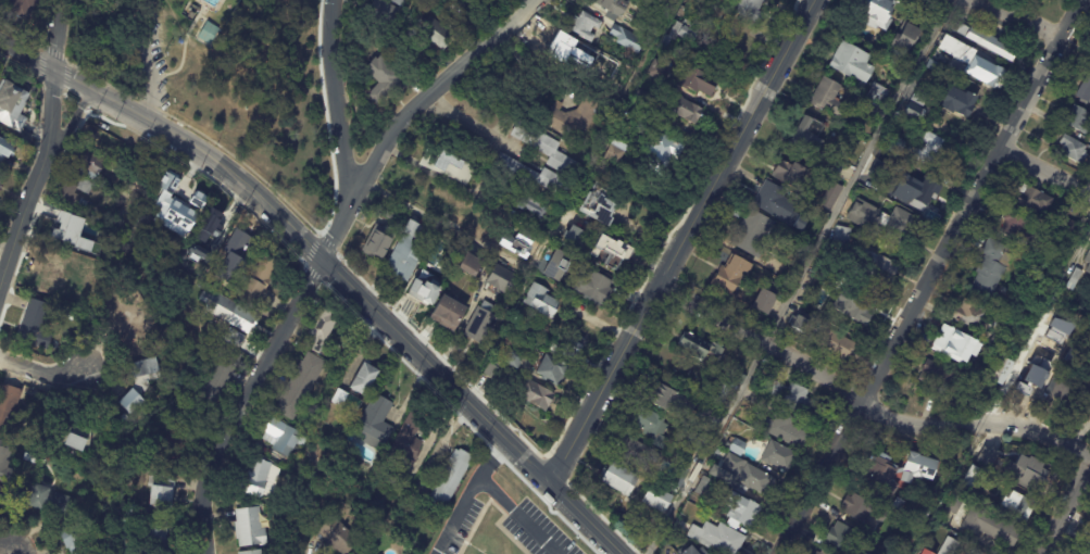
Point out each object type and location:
building: (719, 2)
building: (403, 3)
building: (616, 7)
building: (461, 8)
building: (23, 9)
road: (148, 9)
building: (753, 9)
building: (384, 12)
building: (189, 13)
building: (872, 13)
road: (1016, 14)
building: (586, 25)
building: (208, 33)
building: (439, 34)
building: (684, 34)
road: (59, 36)
building: (629, 39)
building: (991, 40)
building: (904, 41)
road: (184, 43)
building: (885, 51)
road: (26, 56)
building: (850, 61)
parking lot: (153, 62)
building: (974, 63)
building: (582, 64)
building: (636, 64)
road: (528, 66)
building: (931, 66)
building: (1089, 66)
building: (661, 72)
building: (387, 73)
park: (222, 78)
building: (698, 84)
building: (1083, 91)
building: (845, 93)
building: (877, 93)
building: (826, 98)
road: (336, 100)
building: (956, 101)
building: (643, 102)
building: (14, 104)
building: (686, 111)
building: (911, 113)
road: (330, 115)
building: (577, 116)
building: (1079, 121)
road: (68, 123)
road: (477, 126)
building: (804, 140)
building: (8, 148)
building: (895, 148)
building: (1073, 150)
building: (549, 151)
building: (662, 151)
building: (616, 152)
building: (923, 152)
building: (91, 163)
building: (448, 165)
building: (834, 166)
building: (875, 173)
building: (786, 175)
building: (535, 177)
road: (1045, 177)
building: (1, 178)
road: (36, 182)
building: (183, 186)
building: (911, 190)
building: (74, 192)
building: (827, 193)
building: (197, 199)
building: (1030, 200)
building: (773, 201)
building: (598, 203)
building: (536, 210)
building: (178, 213)
building: (391, 213)
building: (555, 216)
building: (222, 221)
building: (795, 221)
road: (437, 222)
building: (880, 223)
building: (1068, 227)
building: (1013, 228)
building: (66, 229)
building: (750, 235)
building: (812, 237)
building: (839, 237)
road: (682, 241)
building: (577, 242)
building: (238, 243)
building: (526, 244)
building: (381, 247)
building: (616, 251)
road: (327, 253)
building: (452, 254)
building: (196, 255)
building: (409, 255)
building: (1087, 256)
building: (467, 264)
building: (554, 266)
building: (989, 266)
building: (870, 268)
building: (54, 275)
building: (724, 277)
building: (496, 278)
road: (802, 278)
road: (930, 278)
building: (1073, 278)
building: (259, 280)
building: (596, 288)
road: (354, 289)
building: (426, 293)
building: (765, 299)
building: (541, 301)
building: (852, 306)
building: (233, 312)
building: (968, 314)
building: (453, 316)
building: (791, 318)
building: (38, 323)
building: (797, 323)
building: (483, 325)
building: (130, 327)
building: (323, 329)
building: (233, 338)
building: (719, 340)
building: (995, 340)
building: (952, 344)
building: (696, 345)
building: (834, 345)
building: (557, 350)
building: (574, 352)
building: (1073, 357)
building: (517, 361)
road: (639, 367)
building: (491, 369)
building: (552, 370)
road: (41, 372)
building: (999, 372)
building: (224, 373)
building: (932, 376)
building: (365, 377)
building: (739, 379)
building: (1027, 380)
building: (1089, 380)
building: (143, 383)
building: (302, 386)
building: (1062, 387)
building: (715, 392)
building: (539, 396)
building: (665, 401)
building: (794, 401)
road: (864, 401)
building: (350, 402)
building: (10, 408)
building: (1082, 408)
building: (702, 413)
building: (1089, 418)
building: (126, 420)
building: (379, 420)
building: (648, 425)
building: (780, 427)
building: (286, 438)
building: (413, 438)
building: (180, 439)
building: (73, 441)
building: (82, 442)
building: (691, 442)
building: (954, 445)
building: (735, 446)
building: (632, 453)
building: (987, 455)
building: (777, 456)
road: (492, 459)
building: (7, 461)
building: (917, 465)
building: (317, 475)
building: (741, 477)
building: (877, 477)
building: (263, 478)
building: (453, 478)
building: (615, 478)
building: (1031, 479)
road: (487, 486)
building: (702, 487)
building: (0, 488)
building: (165, 491)
building: (1004, 493)
building: (1, 499)
building: (654, 499)
building: (54, 501)
building: (897, 504)
building: (952, 504)
building: (1014, 507)
building: (736, 508)
building: (861, 508)
road: (1065, 508)
building: (923, 517)
building: (987, 526)
building: (252, 528)
building: (869, 528)
building: (340, 536)
building: (77, 537)
building: (159, 537)
building: (714, 537)
building: (839, 537)
building: (672, 539)
building: (1089, 540)
building: (948, 545)
road: (8, 547)
building: (690, 551)
building: (973, 551)
building: (254, 552)
building: (920, 552)
building: (1085, 552)
building: (816, 553)
building: (822, 553)
building: (860, 553)

